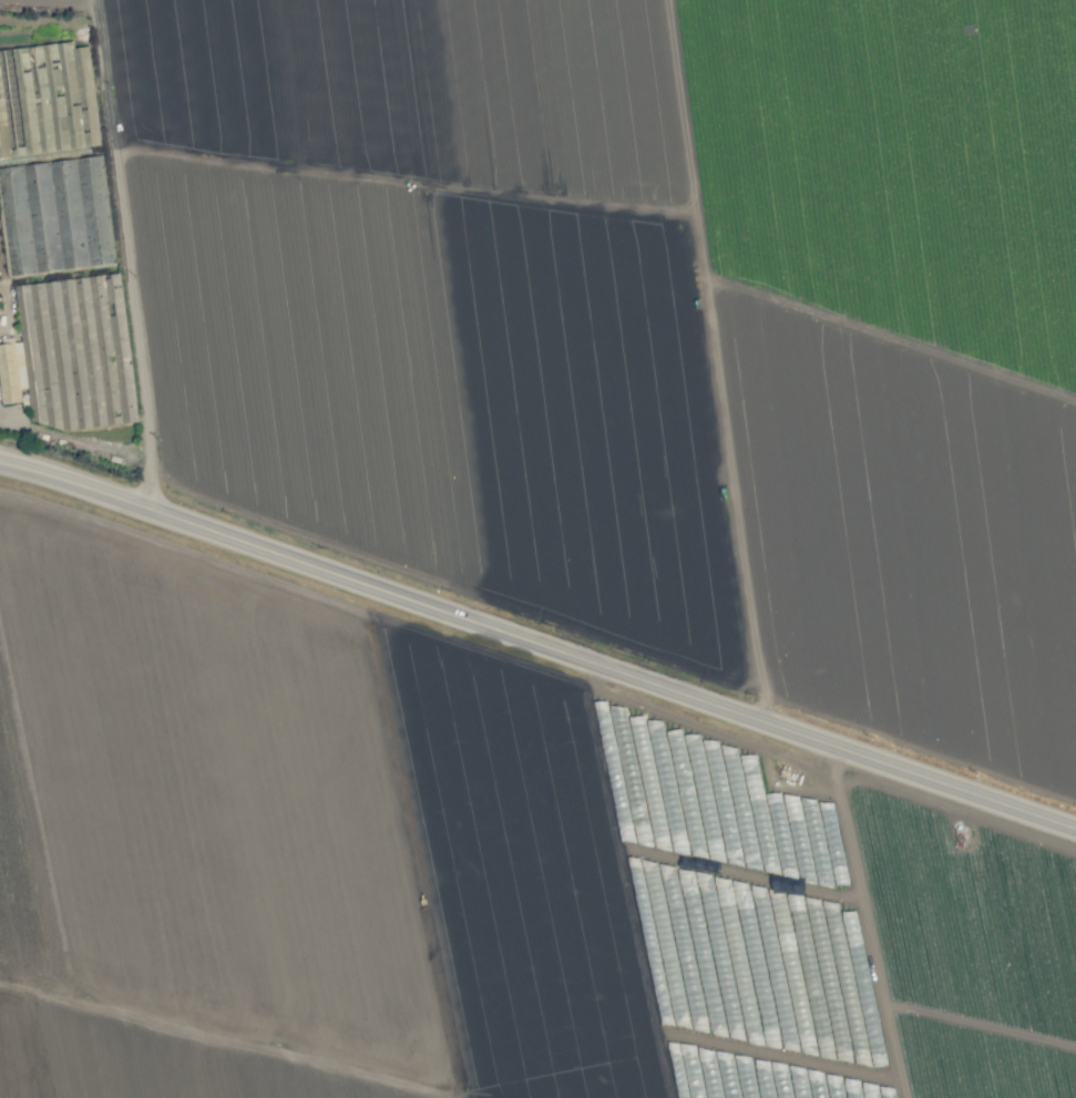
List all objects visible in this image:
building: (53, 94)
building: (54, 215)
road: (137, 258)
building: (64, 368)
crop: (537, 548)
road: (422, 632)
road: (537, 643)
road: (432, 805)
road: (869, 921)
road: (451, 984)
road: (78, 1080)

